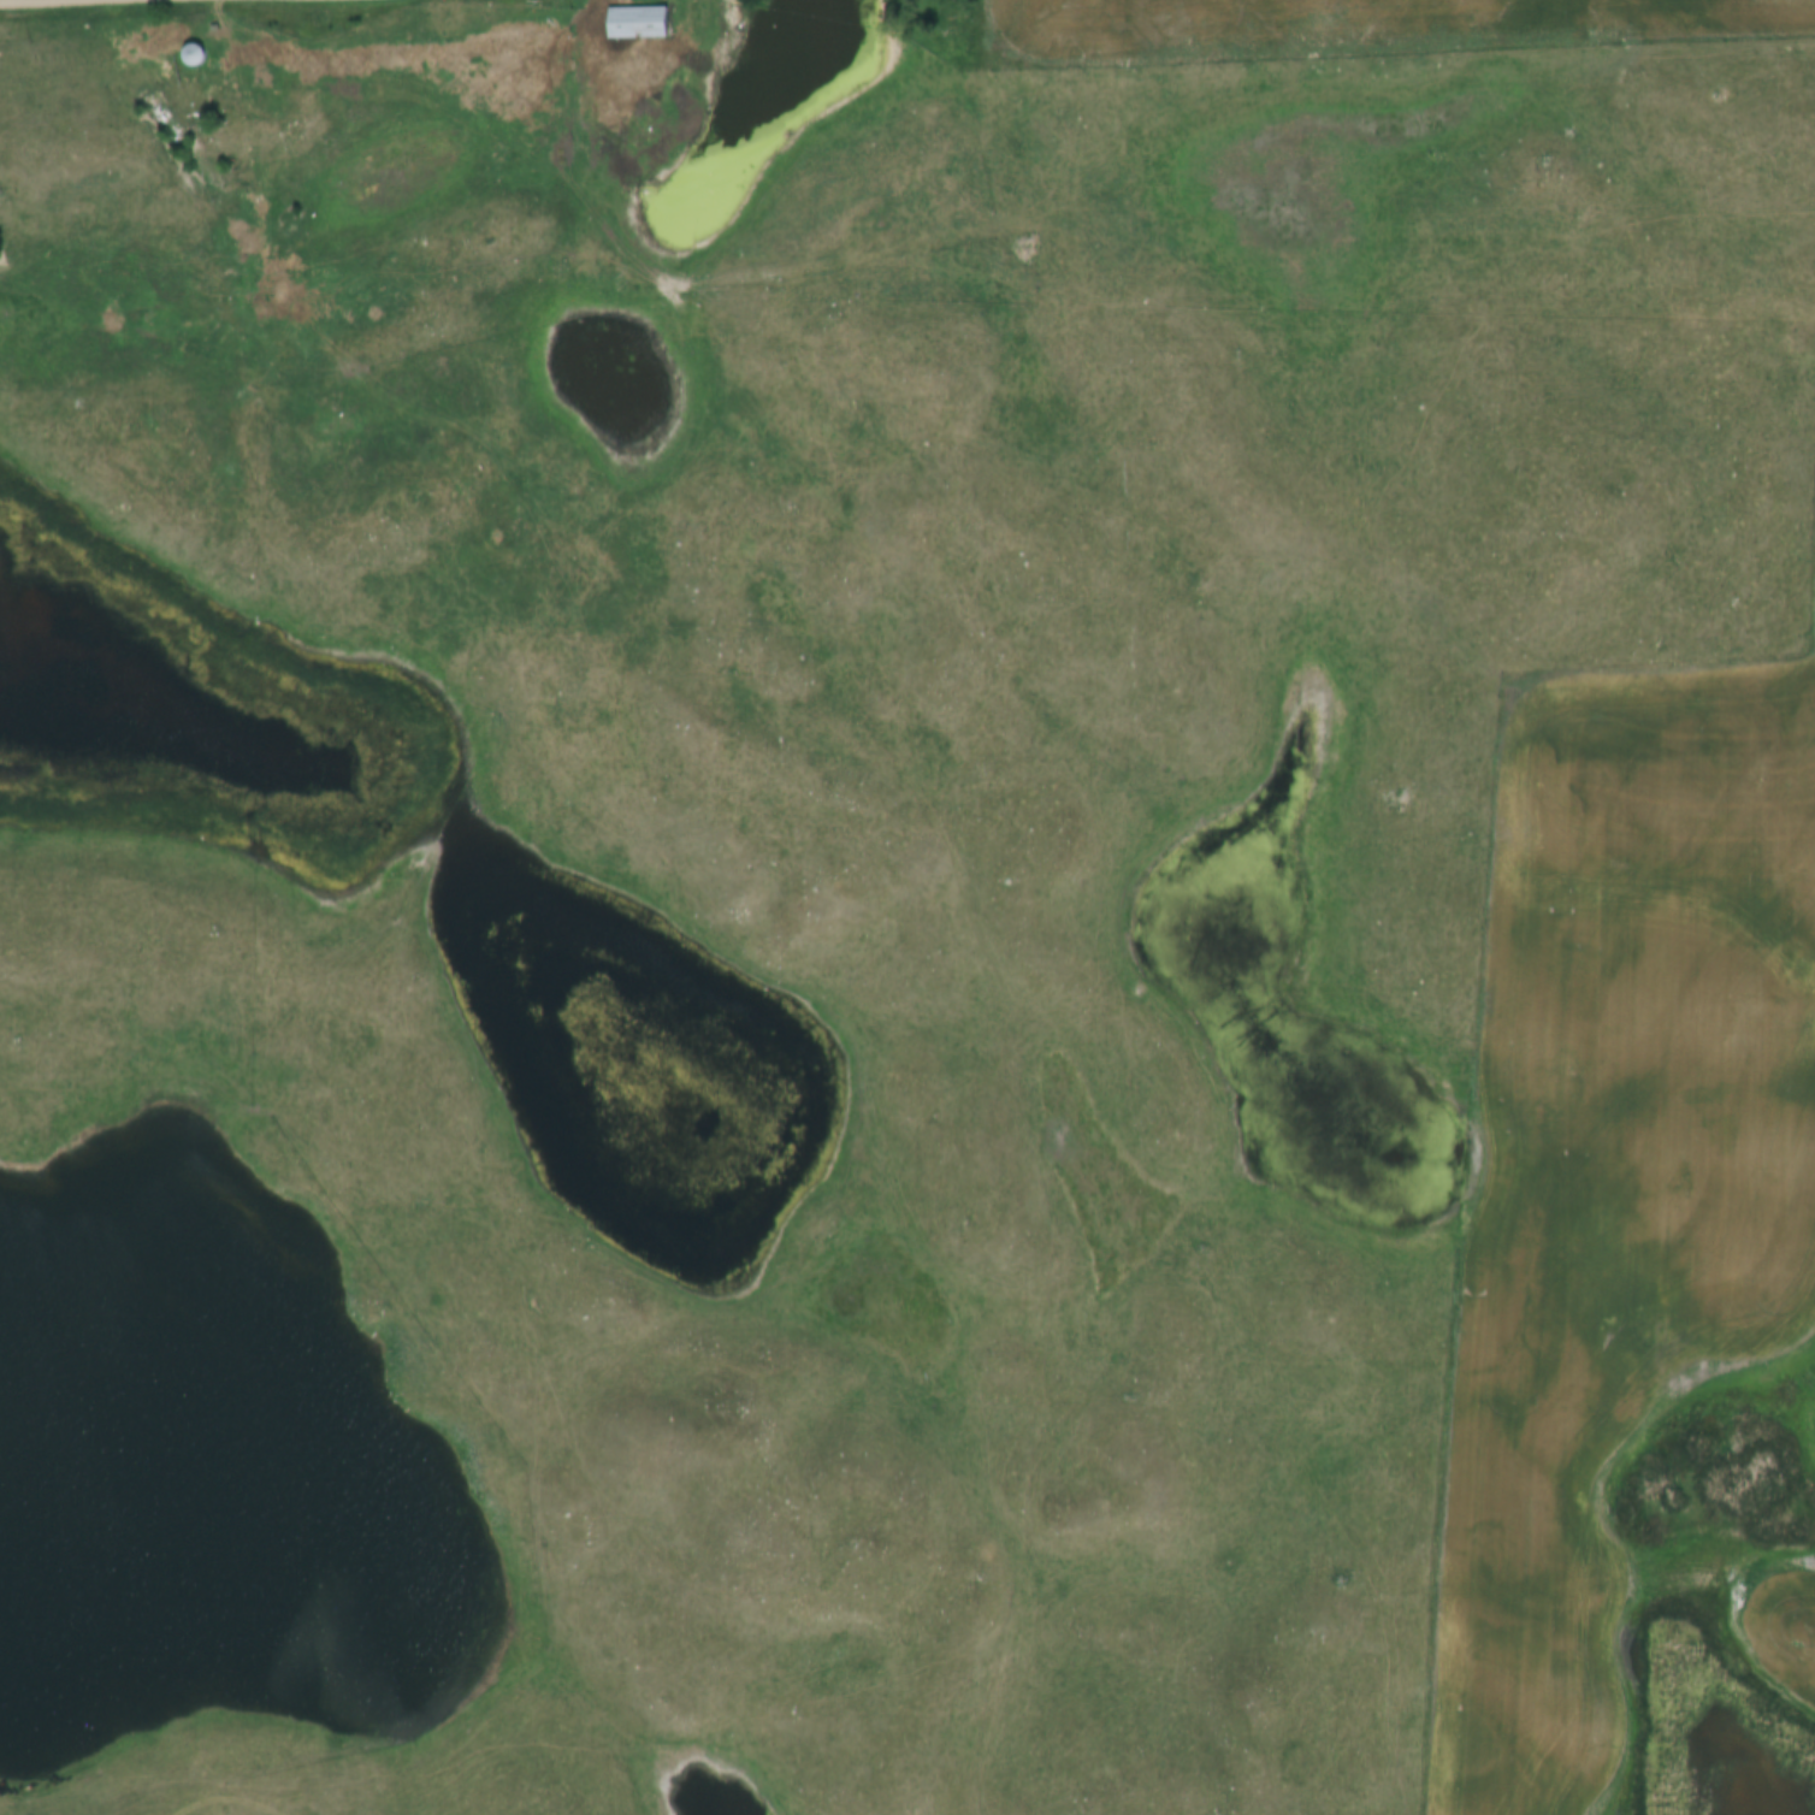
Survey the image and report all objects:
building: (637, 20)
building: (193, 55)

